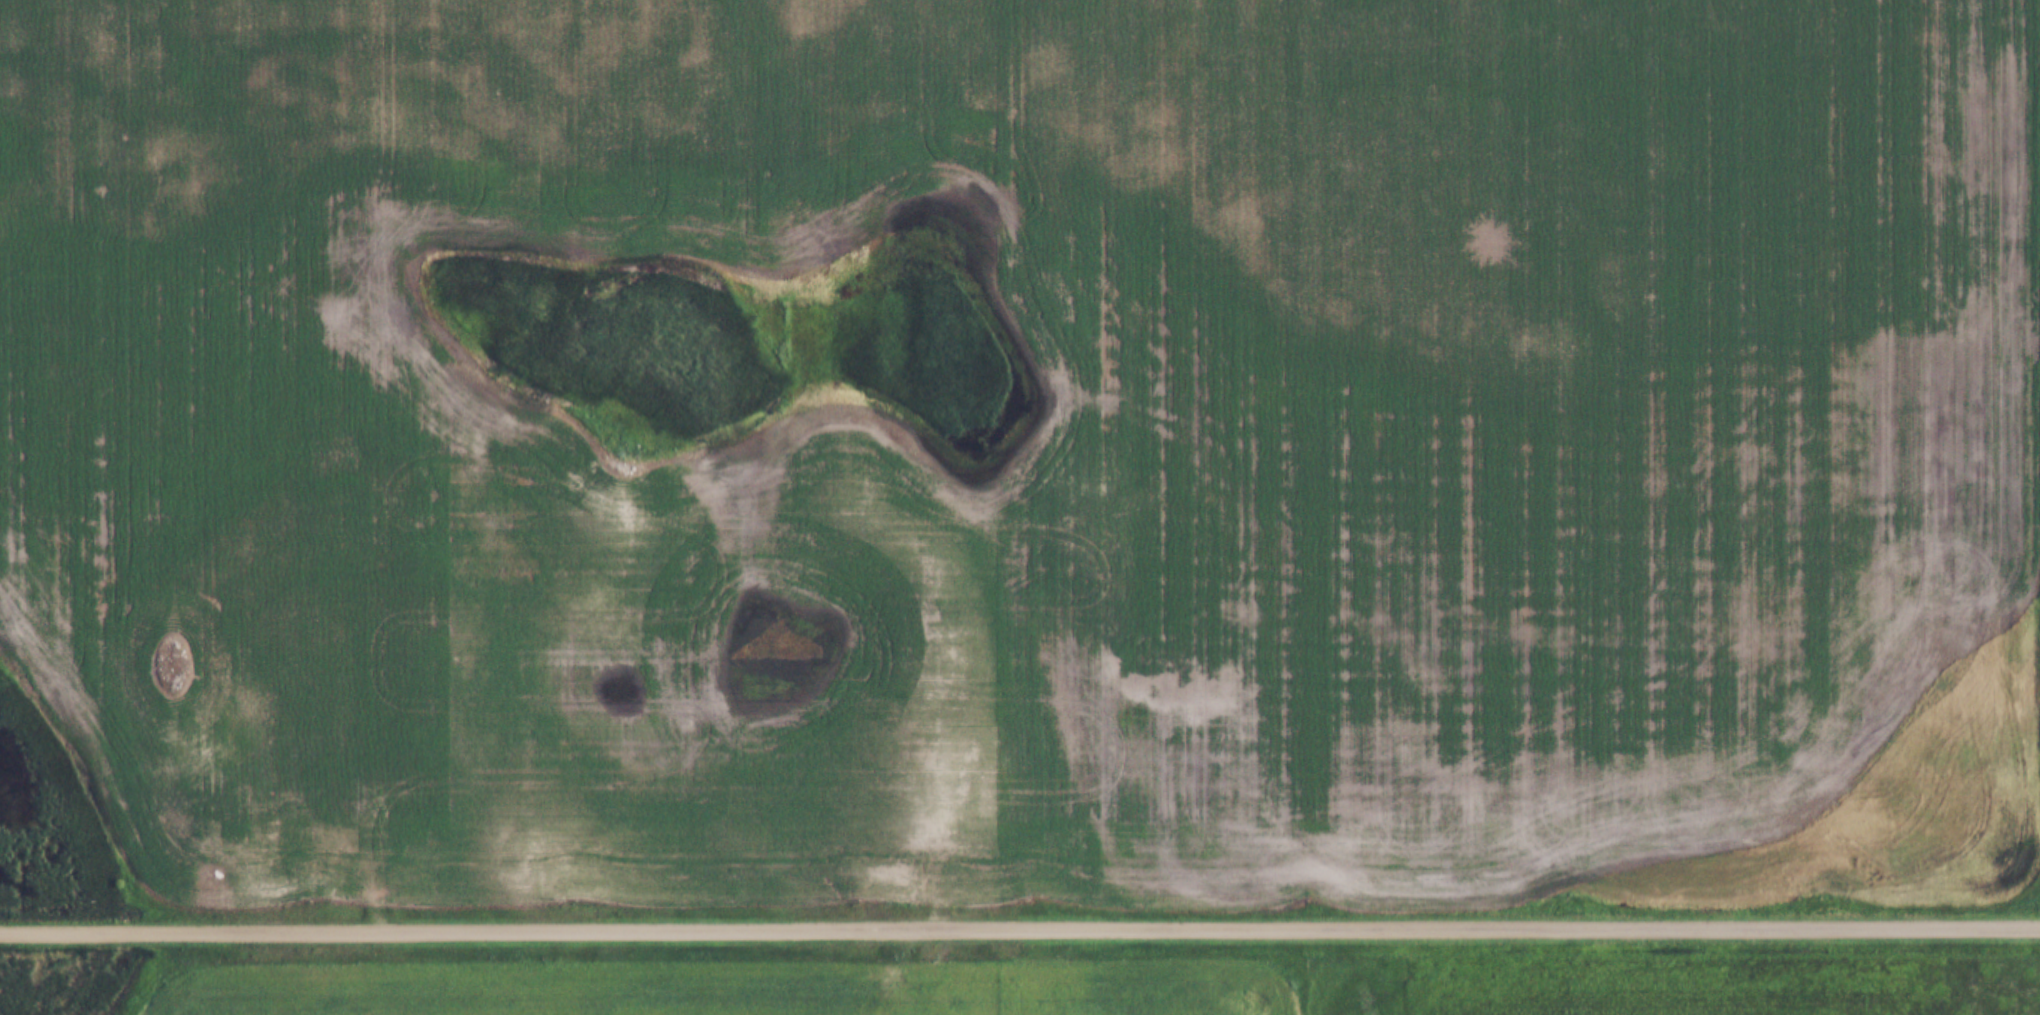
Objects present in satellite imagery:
road: (1019, 928)

